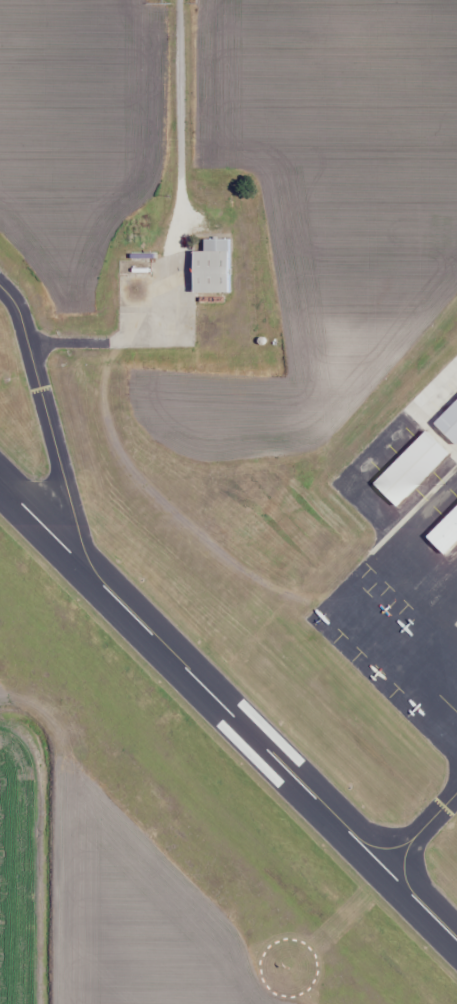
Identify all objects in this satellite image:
road: (177, 126)
building: (211, 267)
airport apron: (157, 301)
airport taxiway: (73, 343)
building: (444, 412)
airport taxiway: (49, 425)
building: (402, 462)
airport: (235, 488)
building: (440, 523)
airport apron: (405, 565)
airport runway: (228, 711)
airport taxiway: (420, 830)

